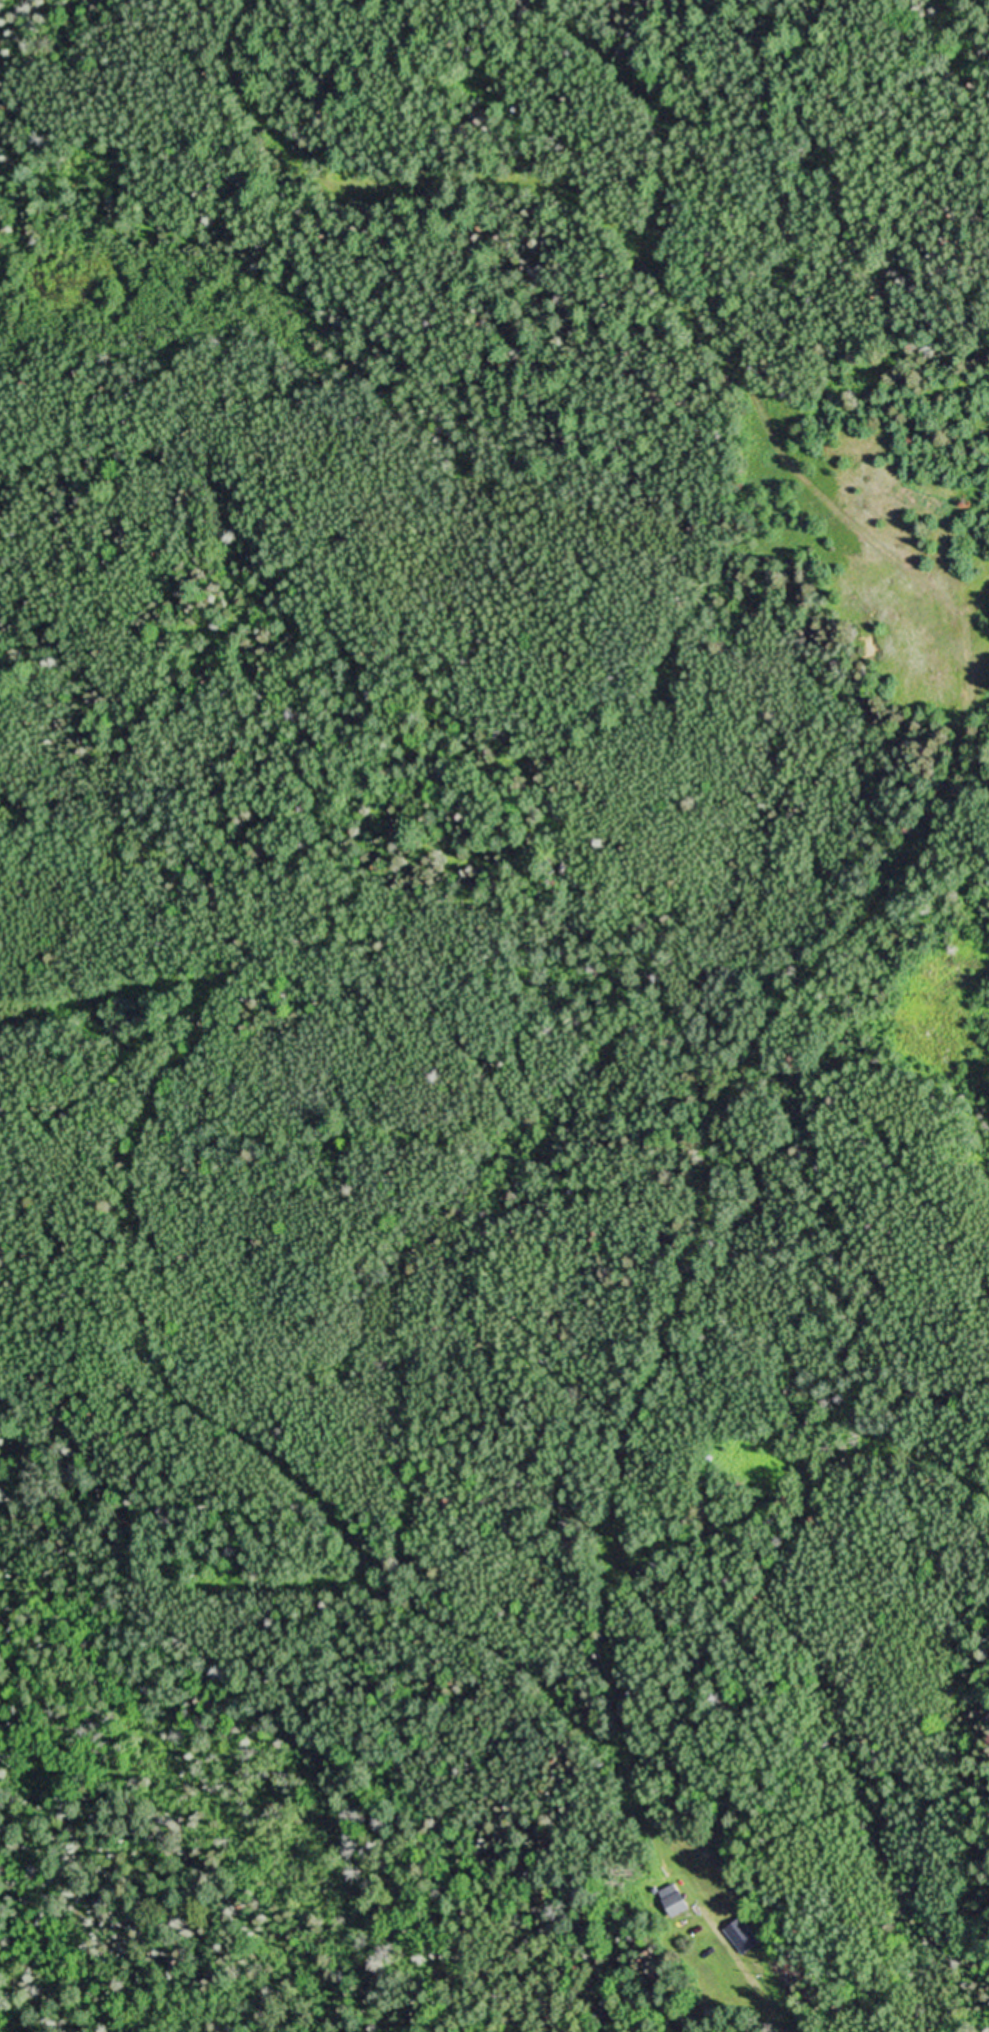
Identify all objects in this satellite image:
road: (743, 1969)

